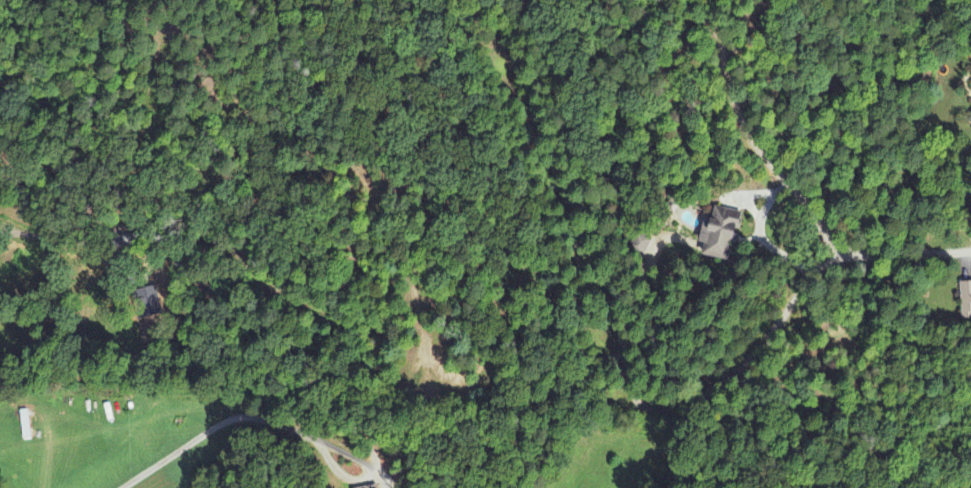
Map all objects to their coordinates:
building: (970, 120)
road: (755, 140)
road: (569, 218)
building: (718, 234)
road: (67, 239)
building: (646, 247)
building: (965, 299)
road: (779, 320)
road: (425, 384)
building: (370, 487)

